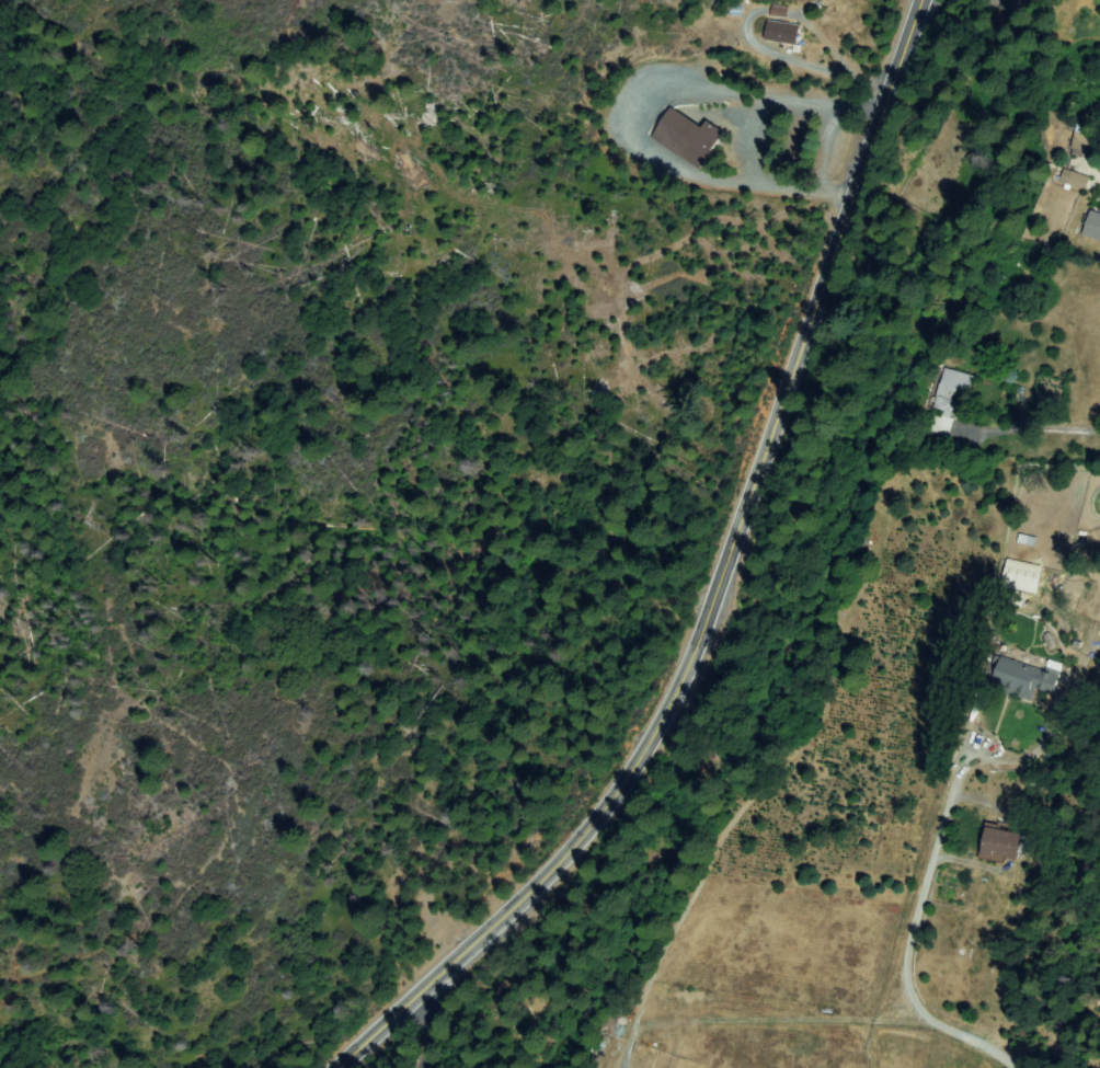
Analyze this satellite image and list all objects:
building: (1015, 4)
road: (1018, 7)
building: (735, 10)
building: (779, 12)
building: (784, 35)
building: (687, 139)
building: (1085, 142)
building: (1075, 180)
building: (1093, 226)
building: (947, 402)
road: (1018, 421)
building: (1021, 577)
road: (722, 586)
building: (1018, 679)
building: (1002, 845)
road: (181, 905)
road: (424, 1049)

